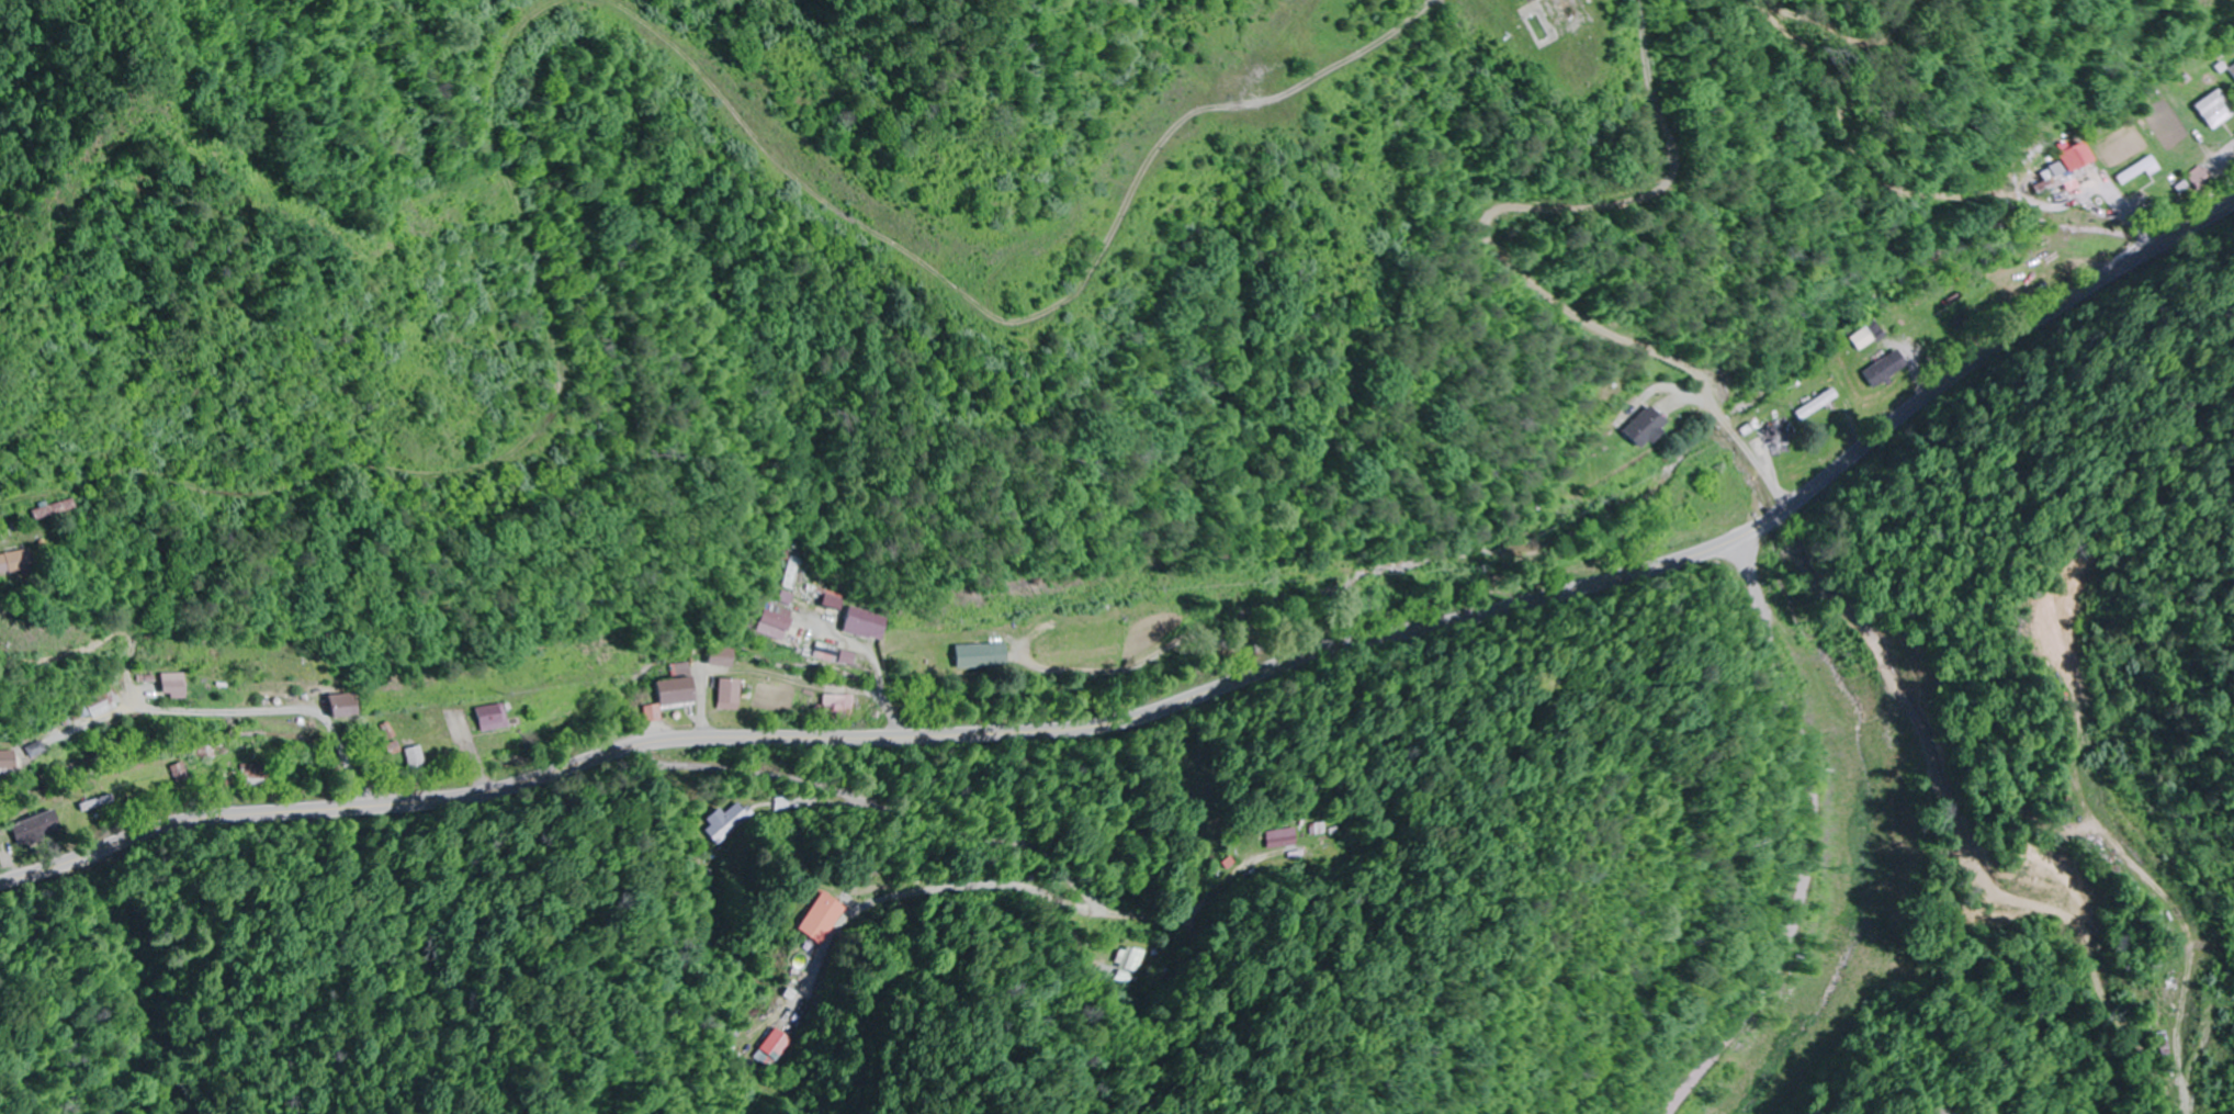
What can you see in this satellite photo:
building: (1572, 15)
building: (2219, 110)
building: (2072, 168)
building: (2140, 170)
building: (2200, 177)
building: (1887, 369)
building: (1819, 404)
building: (1654, 429)
building: (1782, 436)
building: (58, 509)
building: (21, 562)
building: (832, 601)
building: (775, 623)
building: (866, 624)
building: (827, 653)
building: (982, 656)
building: (848, 657)
building: (726, 676)
building: (176, 687)
building: (676, 694)
building: (346, 706)
road: (1169, 706)
building: (100, 707)
building: (838, 707)
building: (494, 719)
building: (37, 750)
building: (413, 758)
building: (9, 764)
building: (255, 776)
building: (36, 828)
building: (823, 919)
building: (1127, 959)
building: (774, 1044)

